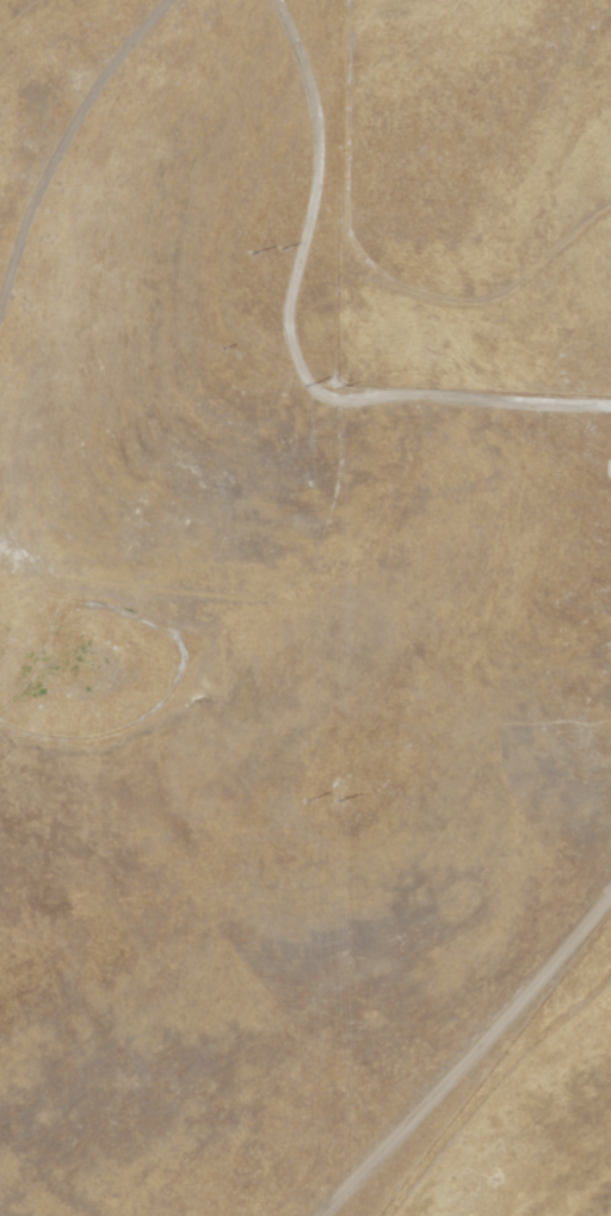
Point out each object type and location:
road: (44, 723)
road: (482, 1065)

